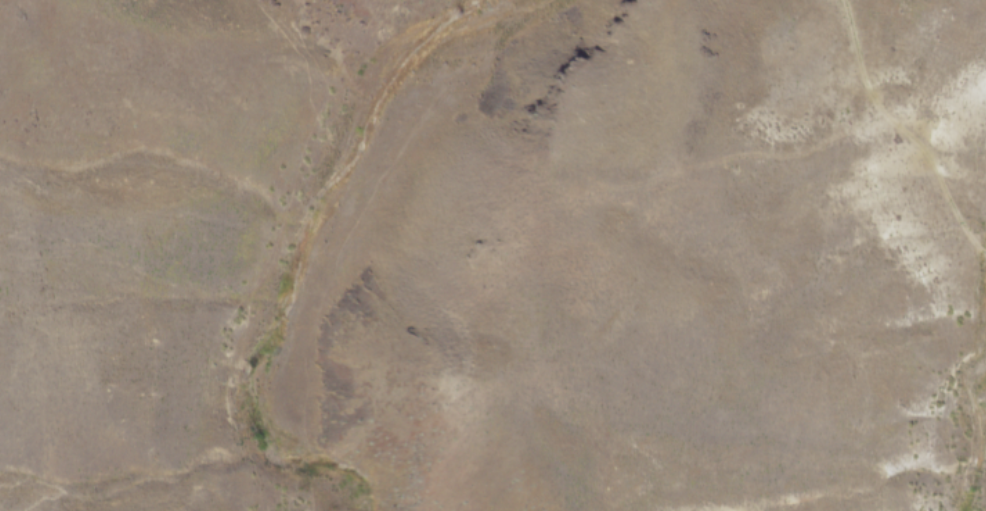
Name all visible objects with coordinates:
road: (904, 130)

